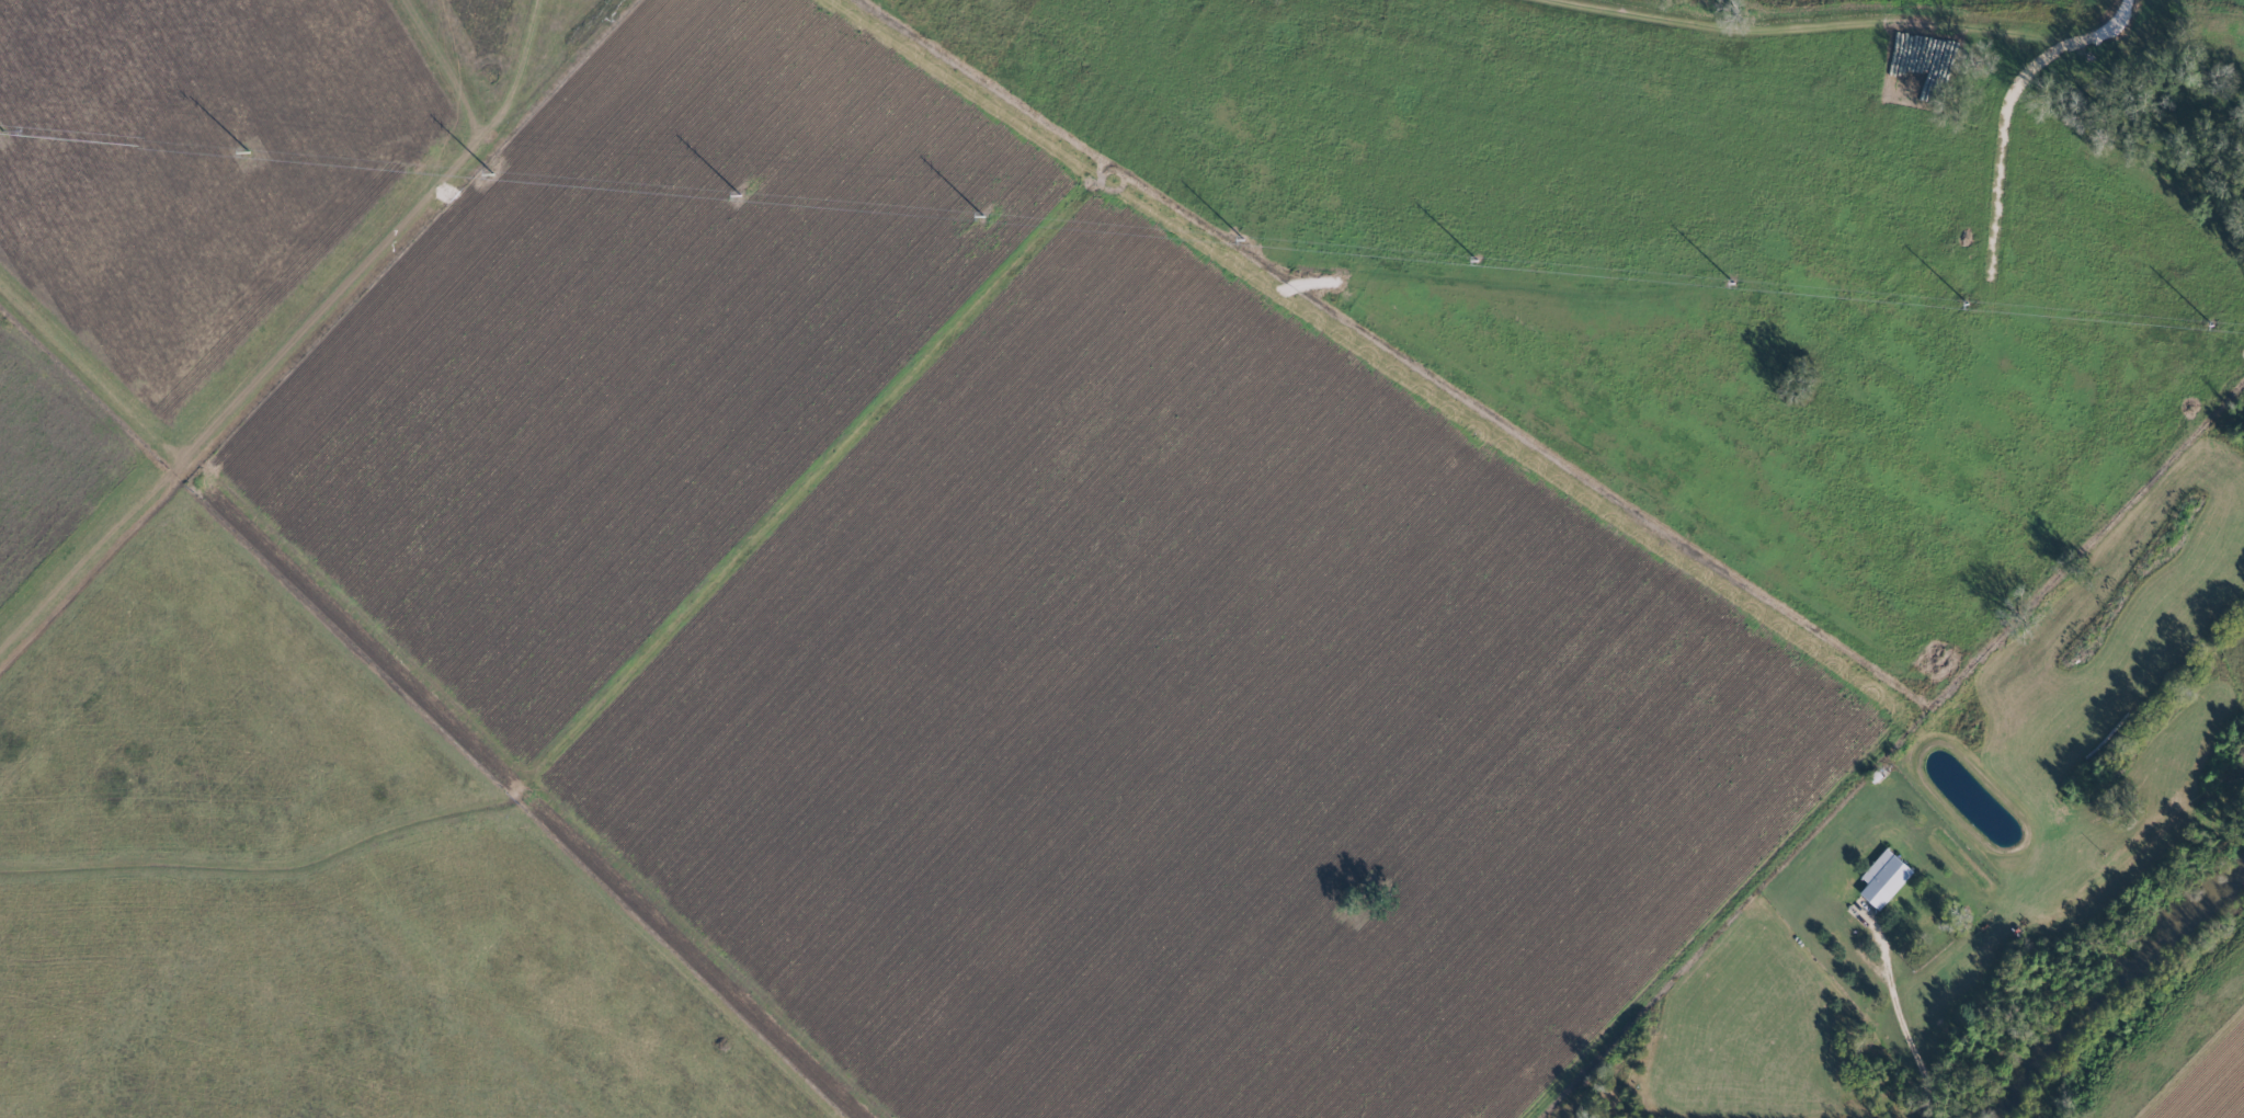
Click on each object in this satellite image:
building: (1883, 879)
road: (1905, 1034)

